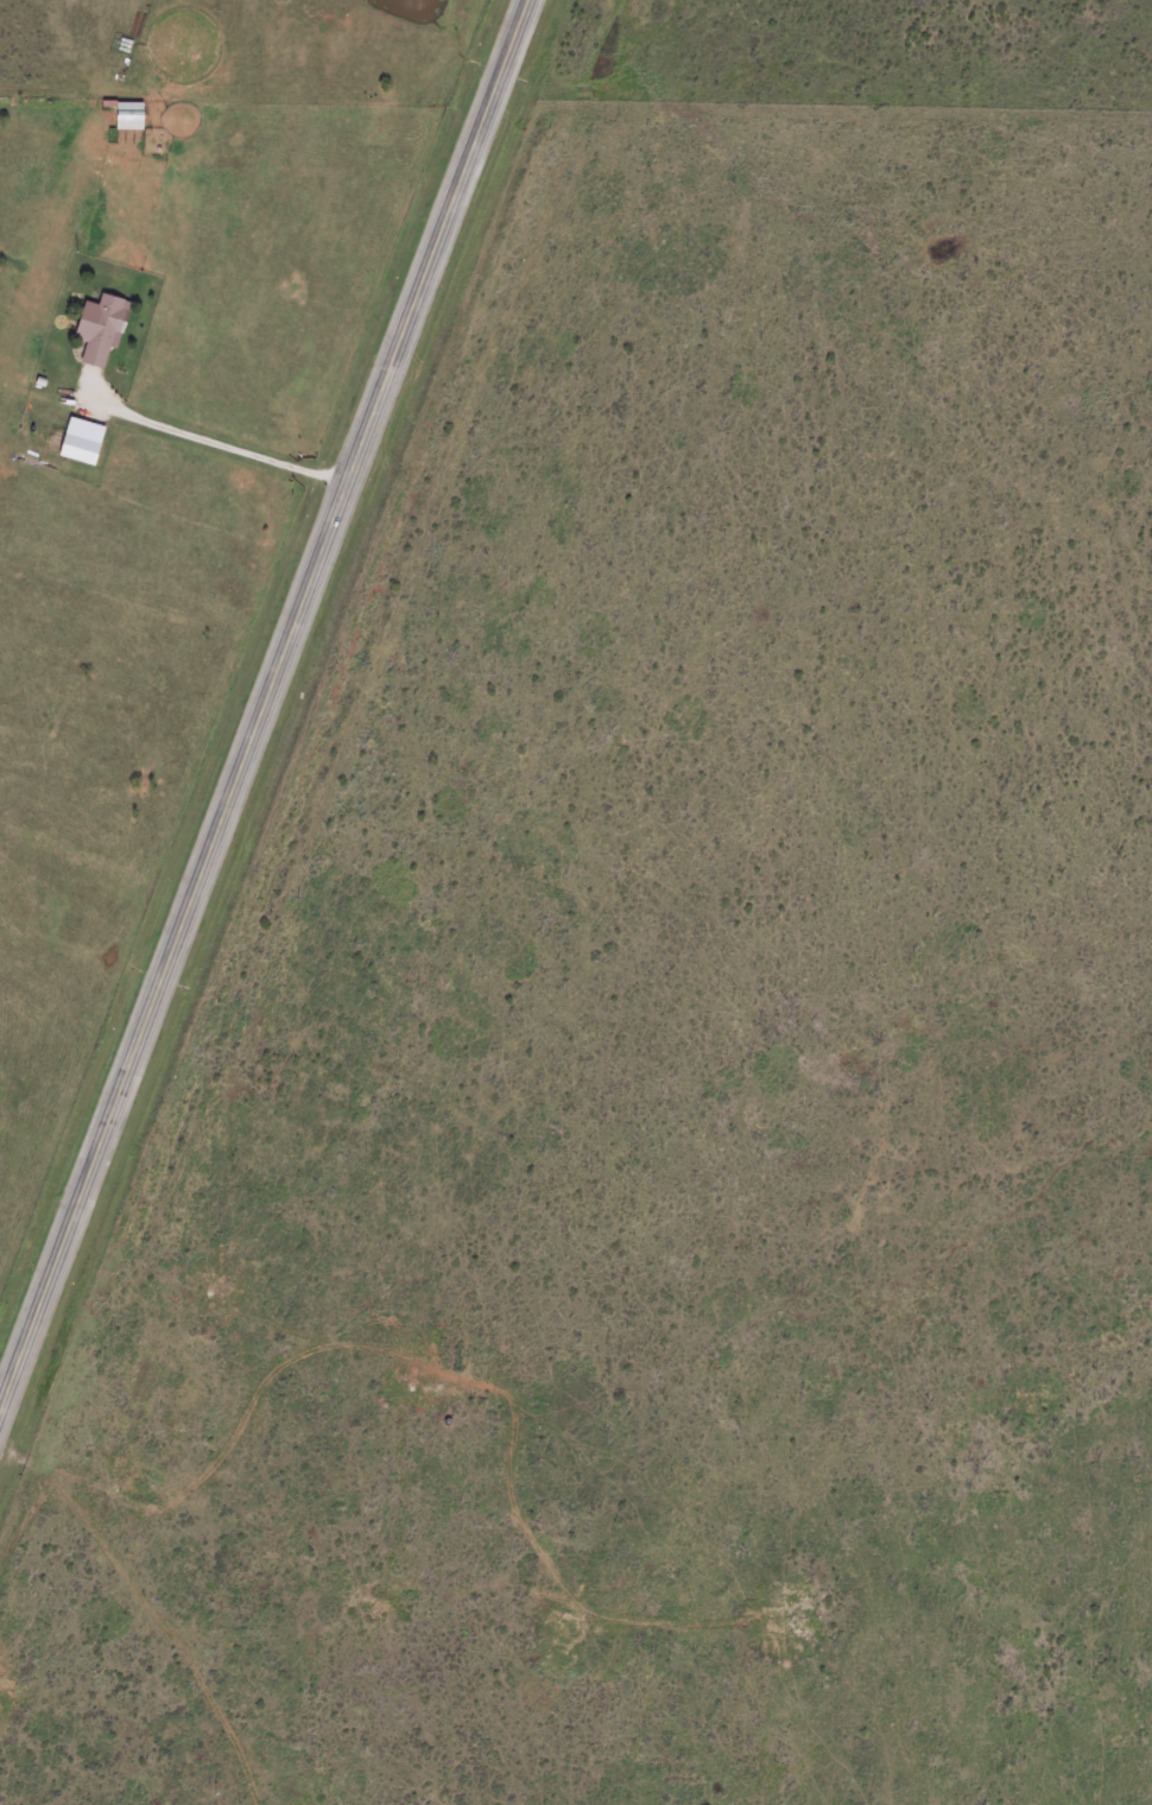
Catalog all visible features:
building: (127, 114)
building: (100, 329)
building: (77, 446)
road: (264, 705)

